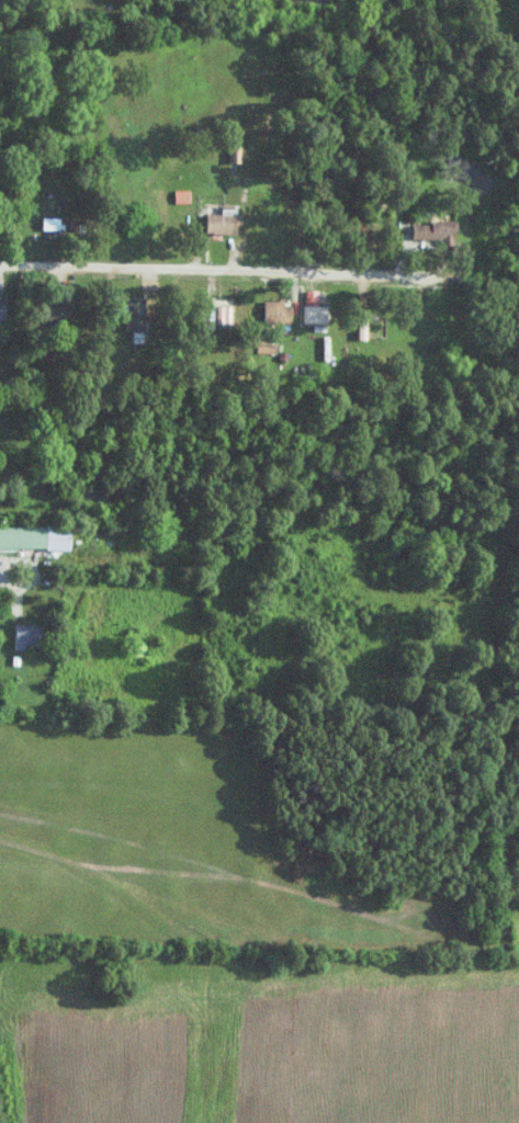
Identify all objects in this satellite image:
building: (154, 206)
building: (67, 220)
building: (226, 220)
road: (259, 282)
building: (323, 304)
building: (4, 309)
building: (228, 311)
building: (281, 311)
building: (140, 315)
building: (37, 536)
road: (5, 589)
building: (32, 635)
road: (253, 929)

